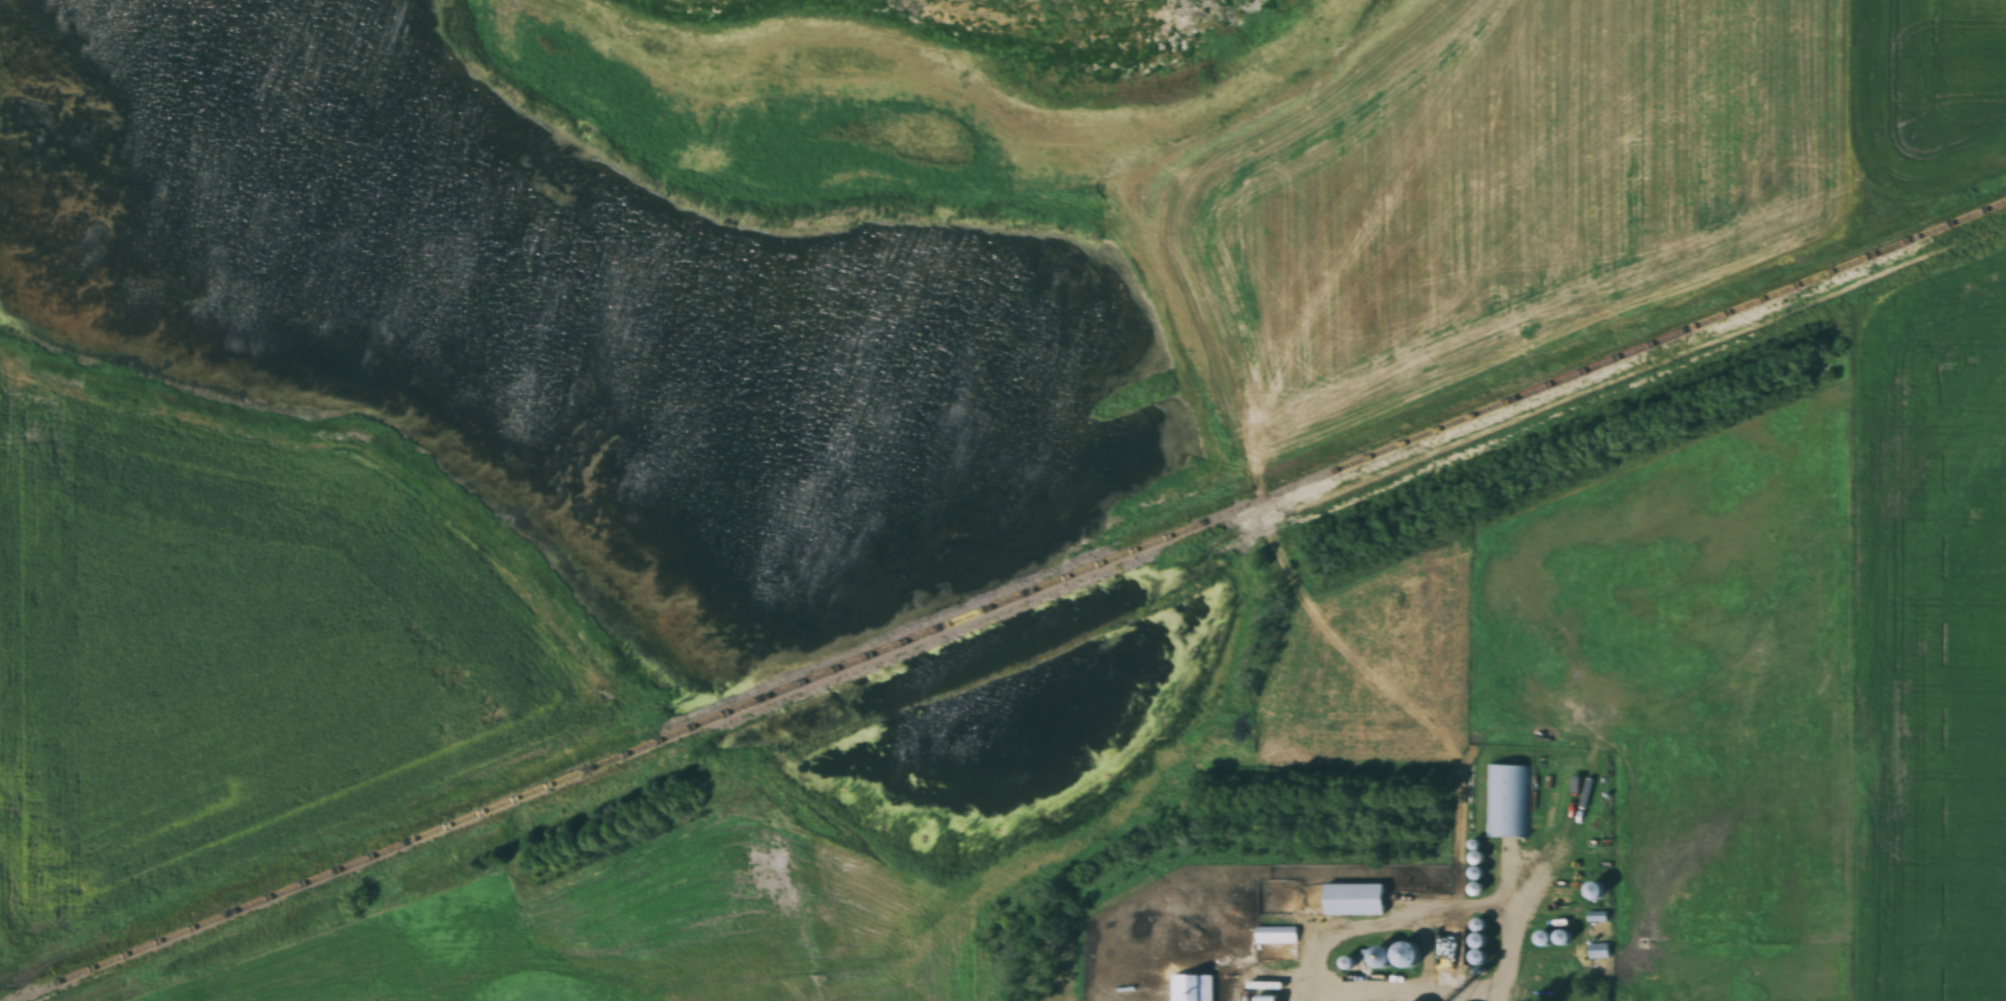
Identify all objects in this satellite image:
building: (1412, 584)
railway: (1010, 603)
building: (1510, 796)
building: (1353, 894)
building: (1275, 940)
building: (1479, 945)
building: (1599, 951)
building: (1395, 957)
building: (1192, 988)
building: (1268, 1000)

